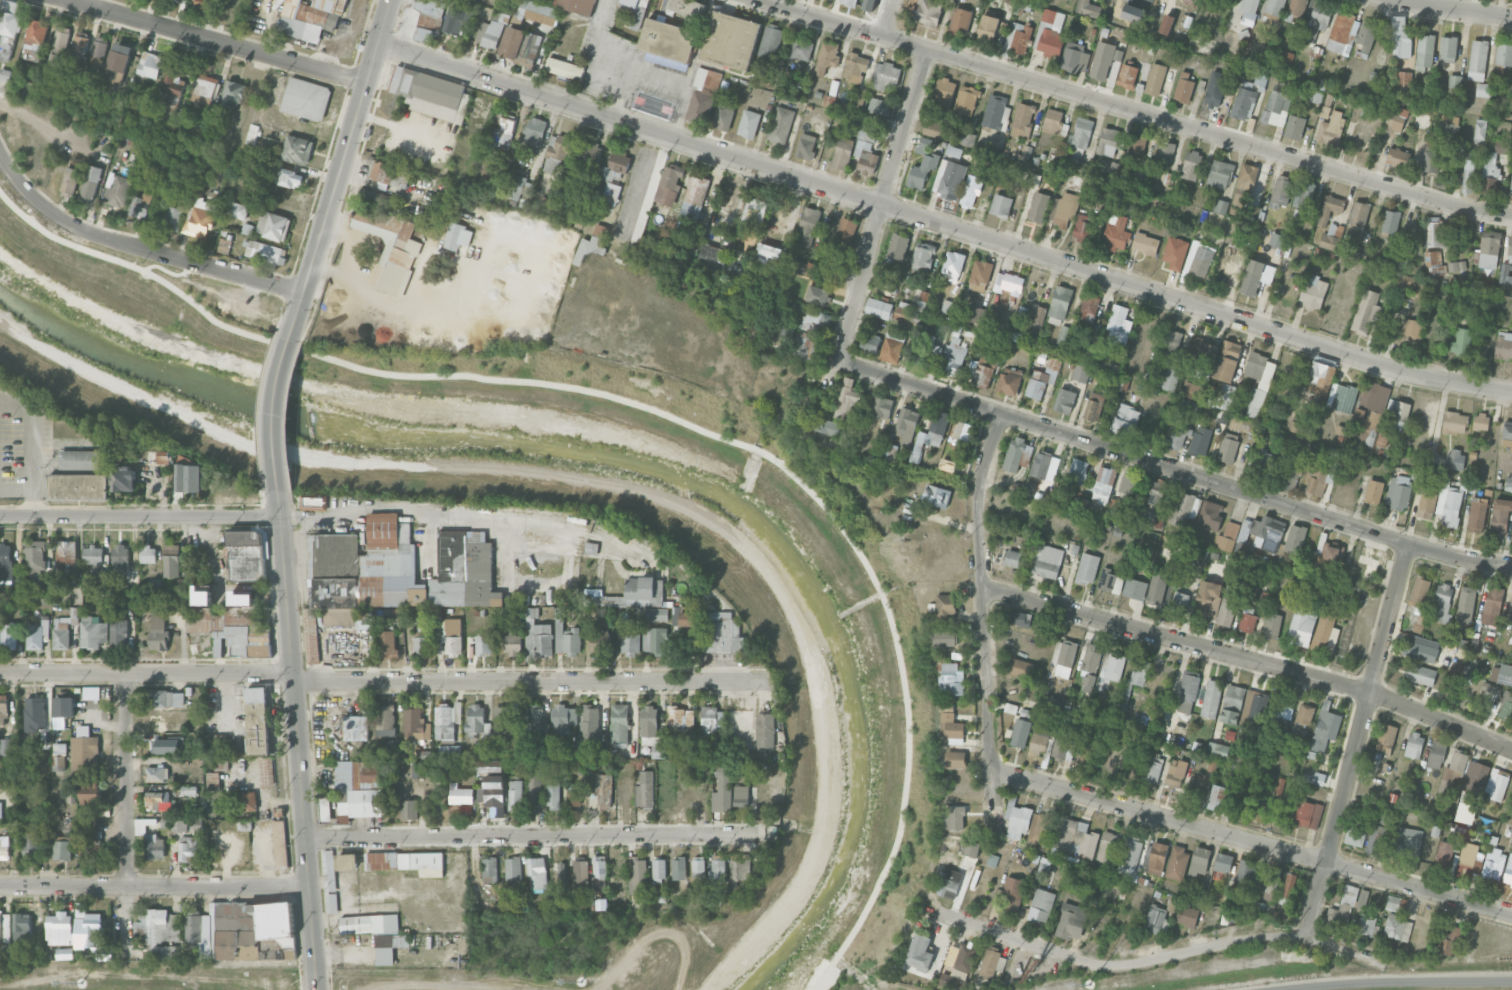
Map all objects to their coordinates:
building: (200, 2)
building: (553, 2)
building: (849, 2)
building: (1191, 2)
building: (579, 6)
building: (1275, 7)
building: (686, 8)
building: (1087, 8)
road: (1453, 8)
building: (1295, 10)
building: (1248, 11)
building: (928, 12)
building: (632, 13)
building: (1321, 15)
building: (310, 16)
building: (539, 16)
road: (887, 17)
building: (428, 19)
building: (454, 19)
building: (960, 20)
building: (1166, 24)
building: (10, 26)
building: (991, 27)
building: (490, 32)
building: (1050, 33)
building: (1343, 33)
building: (1309, 37)
building: (1366, 37)
building: (1017, 38)
building: (1401, 38)
building: (35, 40)
building: (731, 40)
building: (770, 41)
road: (219, 43)
building: (81, 44)
building: (668, 44)
building: (520, 45)
building: (60, 48)
building: (801, 48)
building: (1447, 49)
building: (99, 51)
building: (1425, 52)
building: (1504, 54)
building: (1074, 57)
road: (592, 58)
building: (827, 58)
building: (1287, 58)
building: (1104, 59)
building: (1478, 60)
building: (118, 62)
building: (151, 65)
building: (855, 67)
building: (564, 68)
road: (671, 73)
building: (5, 74)
building: (885, 75)
building: (1127, 76)
building: (1404, 78)
building: (1155, 79)
building: (1454, 81)
building: (174, 85)
building: (1184, 88)
building: (204, 89)
building: (945, 89)
building: (1482, 89)
building: (432, 93)
building: (232, 94)
building: (703, 95)
building: (1247, 95)
building: (305, 98)
building: (1216, 98)
building: (859, 100)
building: (966, 100)
road: (618, 105)
building: (1276, 105)
building: (878, 106)
road: (1137, 110)
building: (995, 112)
road: (1482, 114)
building: (724, 116)
building: (1396, 120)
building: (1023, 121)
building: (1054, 122)
building: (748, 123)
building: (781, 125)
building: (507, 126)
building: (1449, 126)
road: (401, 127)
building: (934, 127)
building: (1294, 127)
road: (47, 128)
building: (1330, 128)
building: (1479, 131)
building: (1081, 132)
building: (533, 133)
building: (967, 138)
building: (1108, 141)
building: (1137, 144)
building: (806, 146)
building: (1501, 146)
building: (297, 148)
building: (866, 149)
building: (556, 150)
building: (591, 152)
building: (1164, 152)
building: (842, 153)
building: (1398, 156)
building: (247, 157)
building: (1433, 157)
building: (922, 164)
building: (1191, 165)
building: (1490, 165)
road: (340, 168)
building: (615, 168)
building: (383, 171)
building: (1219, 174)
building: (1468, 175)
building: (289, 177)
building: (948, 178)
building: (69, 181)
building: (90, 182)
building: (669, 184)
building: (1488, 185)
building: (1511, 185)
building: (517, 187)
building: (1242, 189)
building: (119, 191)
building: (971, 191)
building: (1280, 191)
building: (1104, 193)
building: (1303, 195)
building: (609, 198)
building: (694, 198)
road: (882, 204)
building: (140, 205)
building: (1001, 205)
building: (1221, 206)
building: (1038, 207)
building: (1330, 208)
building: (1063, 209)
building: (236, 210)
building: (754, 210)
building: (1359, 214)
building: (172, 218)
building: (201, 218)
building: (1390, 221)
road: (943, 223)
building: (272, 225)
building: (807, 226)
building: (1083, 228)
building: (600, 230)
building: (845, 232)
building: (1436, 232)
building: (1116, 233)
building: (457, 236)
building: (1331, 237)
building: (1277, 240)
building: (692, 242)
building: (388, 243)
building: (1145, 243)
building: (224, 245)
road: (135, 247)
building: (897, 247)
building: (590, 248)
building: (1359, 249)
building: (1489, 249)
building: (1510, 250)
building: (263, 251)
building: (1175, 252)
building: (767, 253)
road: (483, 257)
building: (711, 257)
building: (923, 257)
building: (1199, 259)
building: (1434, 264)
building: (952, 266)
building: (1456, 266)
road: (178, 268)
building: (981, 272)
building: (1505, 273)
building: (1256, 276)
building: (1008, 283)
building: (1313, 291)
building: (1059, 305)
building: (948, 307)
building: (1089, 307)
building: (878, 308)
building: (1367, 310)
building: (975, 314)
building: (817, 322)
building: (1118, 325)
building: (1411, 329)
building: (1062, 336)
building: (870, 342)
building: (1461, 342)
building: (1170, 343)
building: (1503, 345)
building: (892, 347)
building: (806, 349)
building: (1202, 354)
building: (927, 355)
building: (953, 358)
building: (1227, 360)
building: (984, 371)
building: (1081, 373)
building: (1321, 373)
building: (1170, 378)
building: (1042, 379)
building: (1009, 381)
building: (1258, 382)
building: (1195, 389)
building: (850, 392)
building: (1226, 396)
building: (1342, 397)
building: (1064, 400)
building: (1094, 406)
building: (1189, 406)
building: (882, 407)
road: (665, 409)
road: (276, 410)
building: (1371, 412)
building: (1400, 414)
building: (1126, 419)
building: (1455, 422)
building: (1481, 422)
building: (1239, 424)
building: (906, 425)
building: (828, 426)
building: (1299, 428)
building: (1507, 429)
building: (960, 433)
building: (930, 435)
building: (1177, 436)
building: (1382, 438)
building: (1200, 441)
building: (1228, 447)
road: (30, 449)
building: (889, 451)
building: (1511, 452)
building: (1017, 454)
building: (165, 457)
building: (1454, 458)
building: (79, 459)
building: (1263, 460)
building: (1042, 464)
road: (1173, 468)
building: (1077, 471)
building: (1321, 475)
building: (187, 477)
building: (1290, 477)
building: (124, 478)
building: (1128, 482)
building: (1508, 482)
building: (1102, 485)
building: (78, 486)
building: (1373, 491)
building: (1156, 492)
building: (1397, 492)
building: (936, 495)
building: (314, 501)
building: (1427, 501)
road: (32, 502)
building: (1448, 505)
building: (1183, 509)
building: (1476, 514)
building: (1210, 515)
road: (139, 516)
road: (516, 516)
building: (1501, 516)
building: (1152, 517)
building: (1260, 534)
building: (1228, 537)
building: (1295, 539)
building: (148, 554)
building: (246, 554)
building: (67, 555)
building: (95, 555)
building: (1328, 555)
building: (35, 557)
building: (1012, 558)
building: (172, 560)
building: (1047, 561)
building: (6, 562)
building: (120, 563)
building: (1087, 568)
building: (398, 571)
building: (1111, 581)
building: (1135, 588)
building: (1156, 588)
building: (59, 590)
building: (1419, 592)
building: (635, 594)
building: (42, 598)
building: (1207, 598)
building: (128, 601)
building: (176, 601)
building: (1180, 602)
building: (1441, 603)
building: (1466, 604)
building: (1492, 605)
building: (945, 606)
building: (1227, 606)
road: (982, 609)
building: (1510, 609)
building: (655, 614)
building: (675, 615)
building: (1019, 618)
building: (687, 619)
building: (1247, 622)
building: (1419, 623)
building: (1302, 624)
building: (1272, 625)
building: (159, 630)
building: (92, 632)
building: (118, 632)
building: (226, 632)
building: (721, 632)
building: (61, 633)
building: (1325, 633)
building: (537, 635)
building: (9, 636)
building: (35, 637)
building: (451, 638)
building: (567, 638)
building: (945, 638)
building: (422, 641)
building: (655, 641)
building: (600, 642)
building: (388, 644)
building: (484, 644)
building: (513, 644)
building: (631, 644)
building: (1422, 649)
building: (1064, 657)
road: (1249, 658)
building: (1090, 666)
building: (1112, 667)
building: (1020, 668)
road: (146, 672)
building: (1494, 673)
building: (1419, 674)
building: (1505, 674)
road: (528, 679)
building: (951, 679)
building: (1133, 681)
building: (91, 692)
building: (1188, 692)
building: (167, 698)
building: (1211, 698)
building: (1232, 704)
building: (1255, 706)
building: (1506, 706)
building: (64, 707)
building: (3, 710)
building: (36, 712)
building: (1284, 714)
building: (680, 717)
building: (1304, 717)
building: (563, 718)
building: (476, 719)
building: (534, 719)
building: (257, 720)
building: (387, 720)
building: (503, 720)
building: (711, 720)
building: (445, 722)
building: (589, 724)
building: (619, 724)
building: (951, 724)
building: (416, 725)
building: (649, 725)
building: (352, 727)
building: (1325, 727)
building: (765, 730)
building: (1020, 733)
road: (297, 737)
building: (1041, 738)
building: (1386, 738)
road: (1356, 741)
building: (218, 742)
building: (1414, 745)
building: (5, 746)
building: (1063, 746)
building: (1089, 748)
building: (481, 750)
building: (1218, 750)
building: (84, 752)
building: (452, 752)
building: (1436, 754)
building: (956, 759)
building: (488, 763)
building: (1153, 767)
building: (418, 769)
building: (267, 771)
building: (157, 773)
building: (1176, 773)
building: (1450, 775)
building: (1314, 777)
building: (1474, 778)
building: (1497, 783)
building: (1199, 784)
building: (534, 788)
building: (645, 789)
building: (189, 790)
building: (602, 790)
building: (723, 790)
building: (492, 791)
building: (357, 792)
building: (91, 793)
building: (460, 794)
building: (553, 794)
building: (515, 795)
building: (741, 795)
building: (575, 796)
building: (1217, 797)
building: (158, 800)
building: (247, 801)
road: (129, 807)
building: (1262, 808)
building: (409, 809)
building: (0, 811)
building: (1306, 814)
building: (954, 817)
building: (1017, 819)
building: (179, 825)
building: (1040, 828)
road: (531, 834)
building: (1077, 836)
building: (1354, 837)
building: (30, 839)
building: (1376, 840)
road: (1251, 841)
building: (1404, 842)
building: (191, 843)
building: (91, 845)
building: (4, 847)
building: (154, 847)
building: (970, 847)
building: (1108, 847)
building: (62, 849)
building: (1444, 853)
building: (1129, 856)
building: (1156, 857)
building: (1200, 860)
building: (1469, 860)
building: (346, 861)
building: (407, 862)
building: (1177, 862)
building: (1223, 862)
road: (475, 864)
building: (1493, 865)
building: (741, 866)
building: (678, 868)
building: (698, 868)
building: (716, 868)
building: (489, 869)
building: (659, 869)
building: (512, 871)
building: (1508, 871)
building: (537, 872)
building: (599, 872)
building: (580, 873)
building: (637, 875)
building: (1244, 877)
building: (950, 883)
building: (1273, 883)
building: (1289, 885)
road: (154, 887)
building: (330, 893)
building: (1011, 894)
building: (1351, 901)
building: (1040, 905)
building: (1186, 916)
building: (1155, 919)
building: (6, 921)
building: (1072, 921)
building: (369, 924)
building: (1367, 924)
building: (1, 927)
building: (22, 927)
building: (1397, 928)
building: (59, 929)
building: (90, 931)
building: (255, 931)
building: (198, 932)
building: (158, 933)
building: (1450, 941)
building: (390, 947)
building: (920, 953)
building: (966, 957)
road: (1156, 959)
building: (992, 963)
building: (948, 980)
road: (1389, 981)

